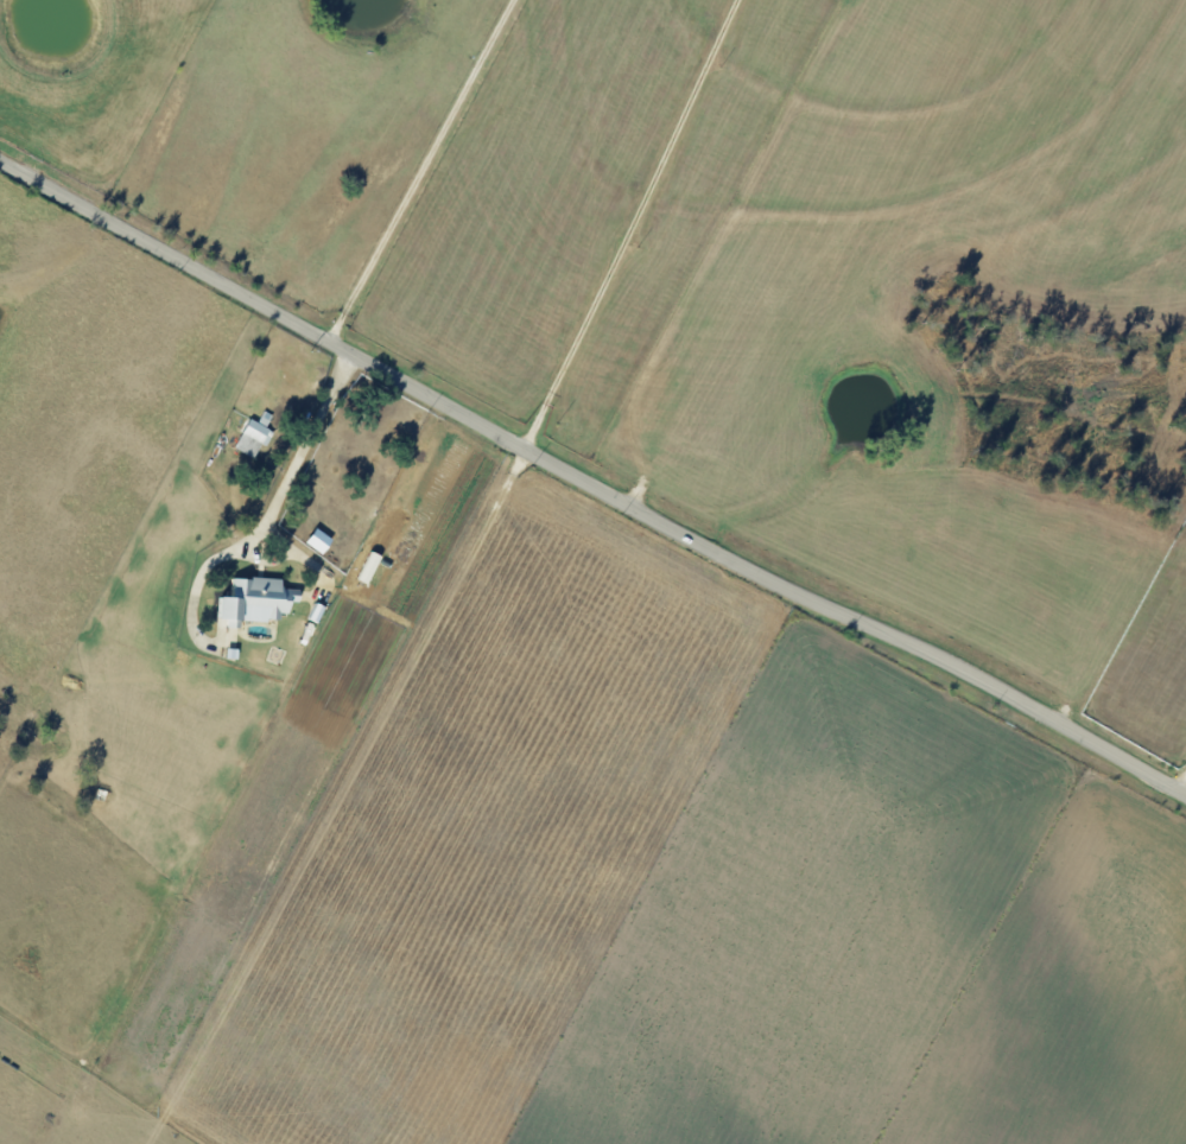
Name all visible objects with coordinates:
road: (418, 174)
road: (634, 223)
building: (255, 436)
road: (300, 447)
road: (628, 468)
road: (594, 481)
building: (321, 540)
building: (262, 598)
road: (1181, 782)

